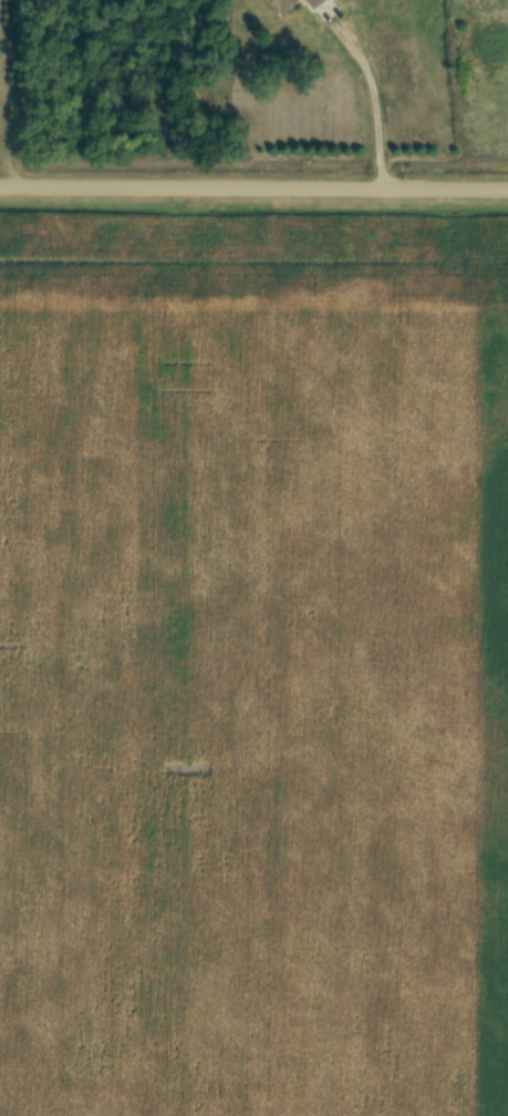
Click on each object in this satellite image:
building: (315, 3)
building: (283, 4)
road: (364, 65)
road: (253, 186)

